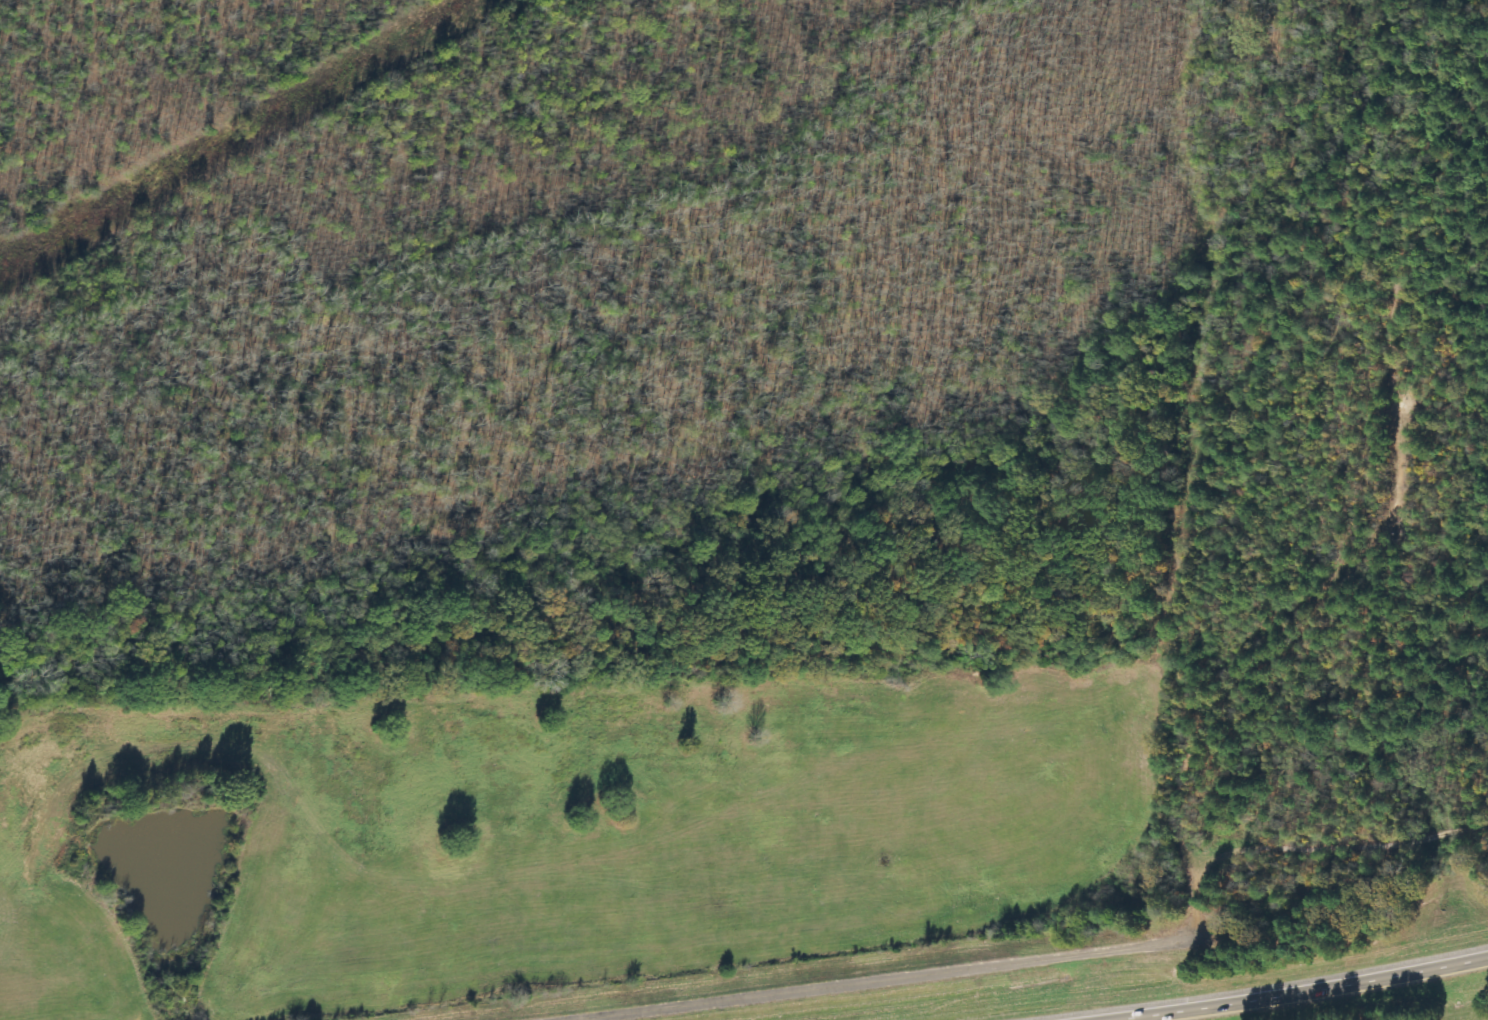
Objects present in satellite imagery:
road: (874, 981)
road: (1282, 988)

